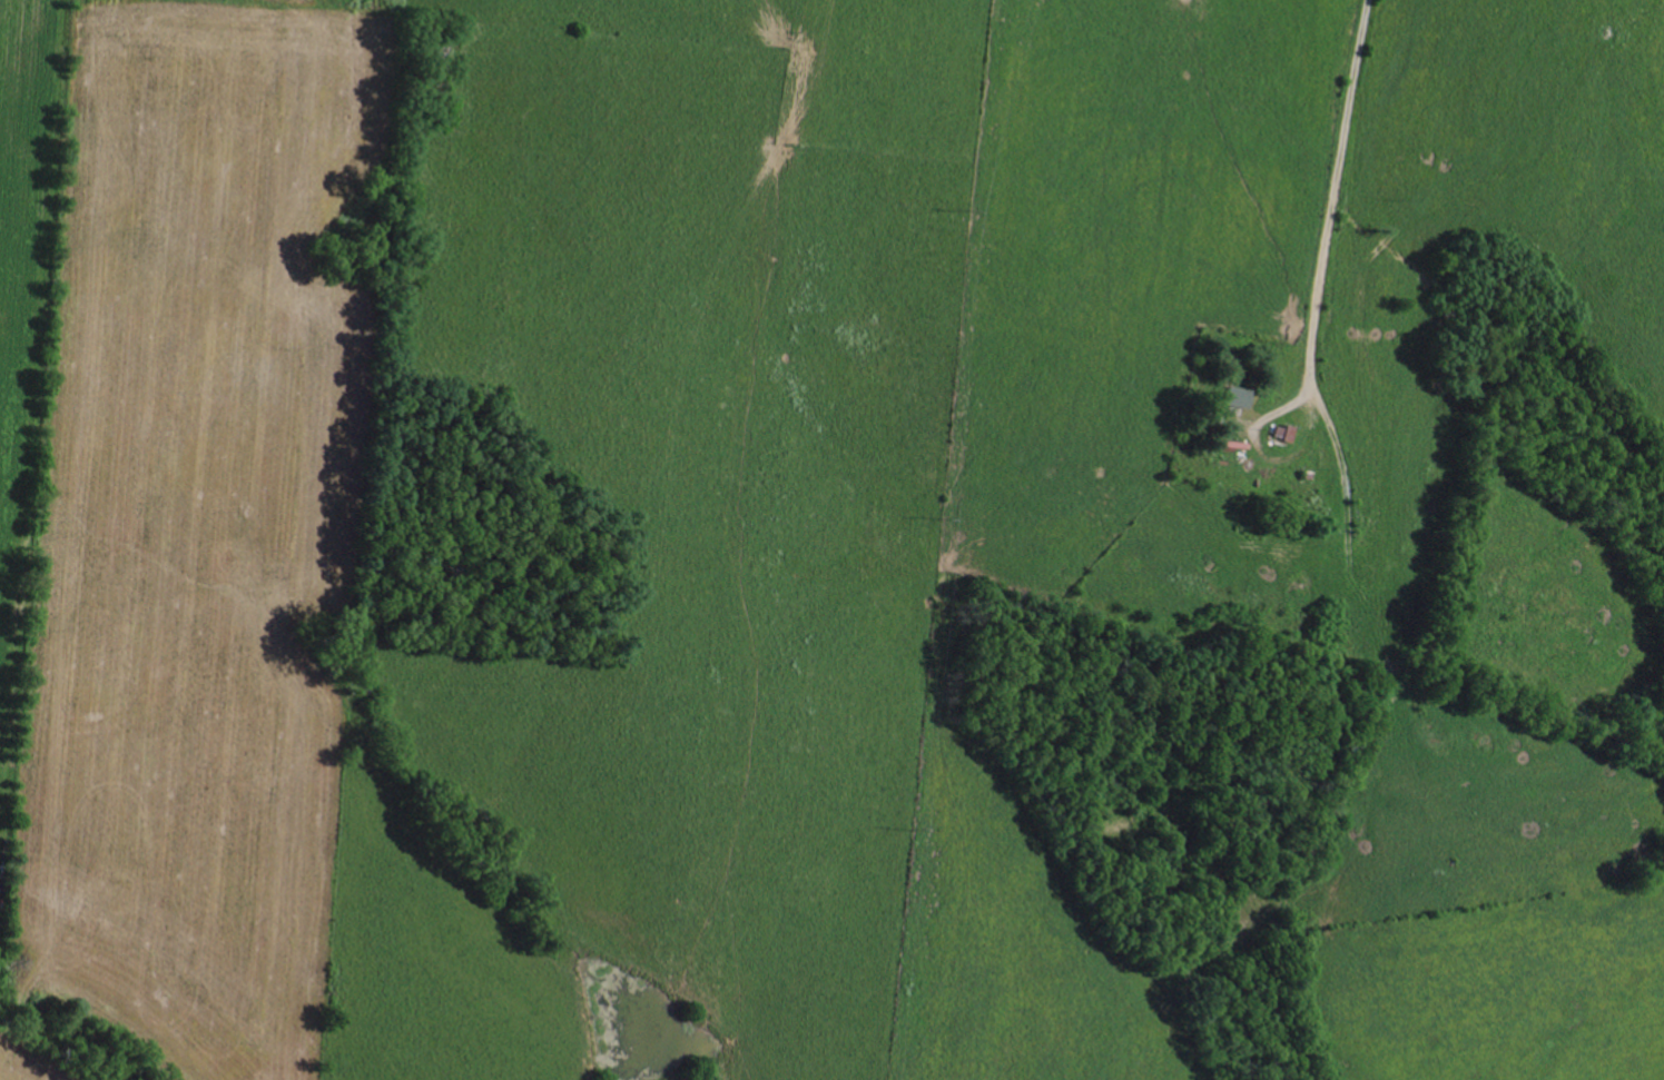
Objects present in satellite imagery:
road: (1328, 222)
building: (1234, 395)
building: (1280, 430)

